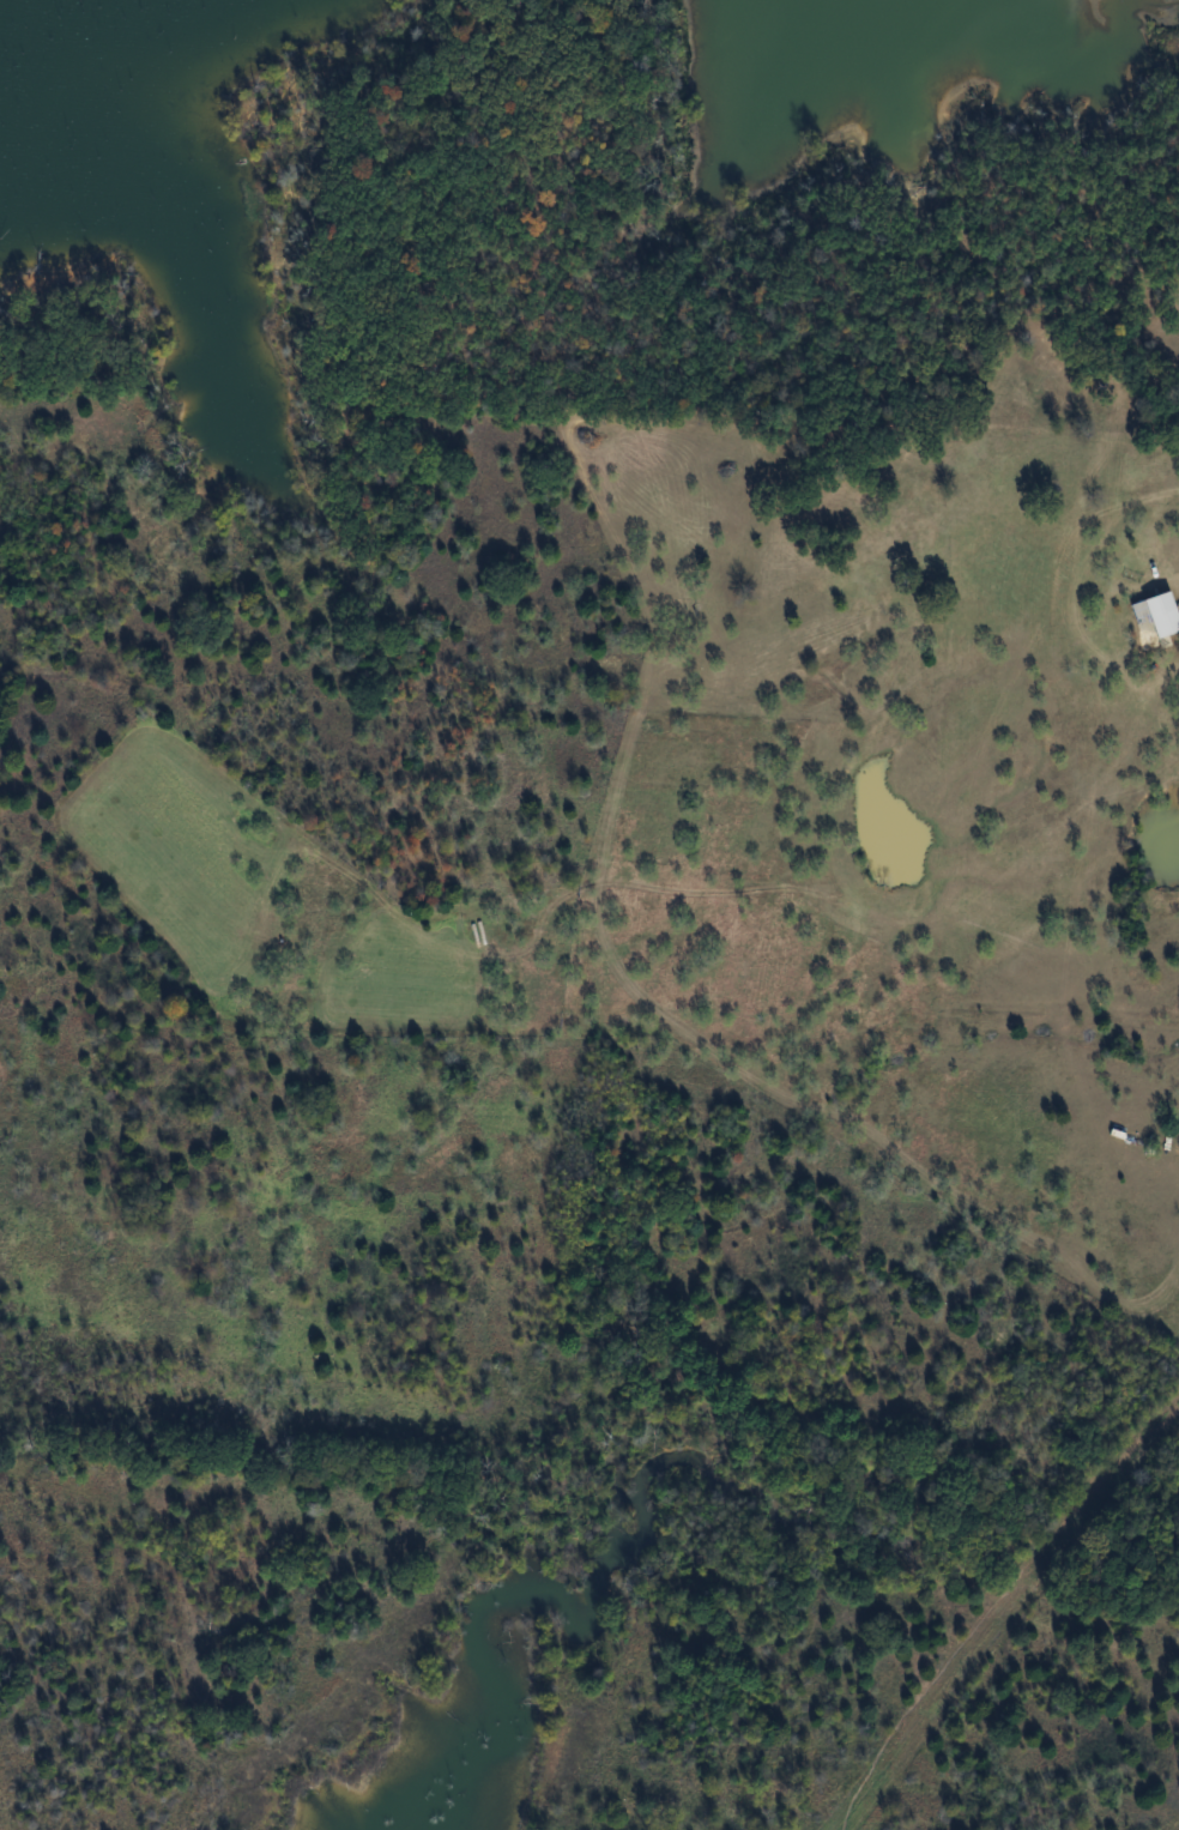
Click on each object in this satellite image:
building: (1160, 616)

